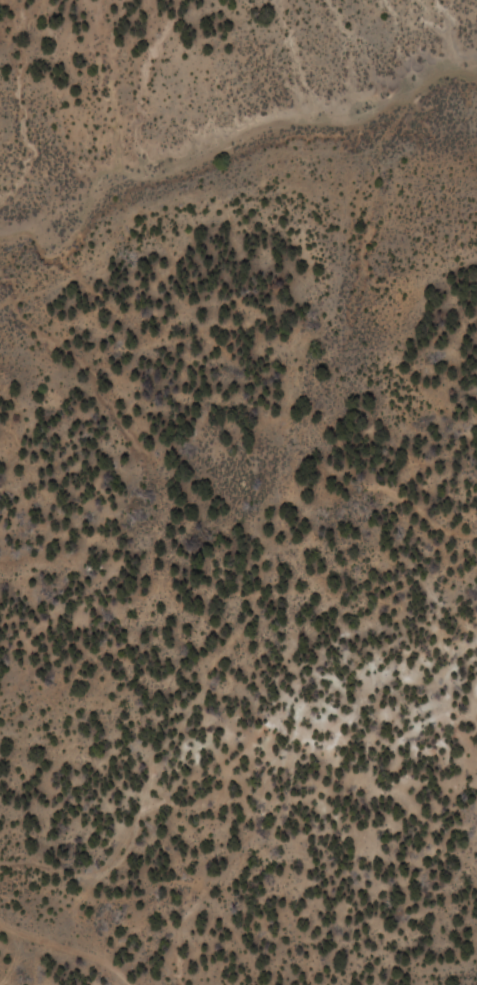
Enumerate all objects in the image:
road: (412, 504)
road: (68, 948)

